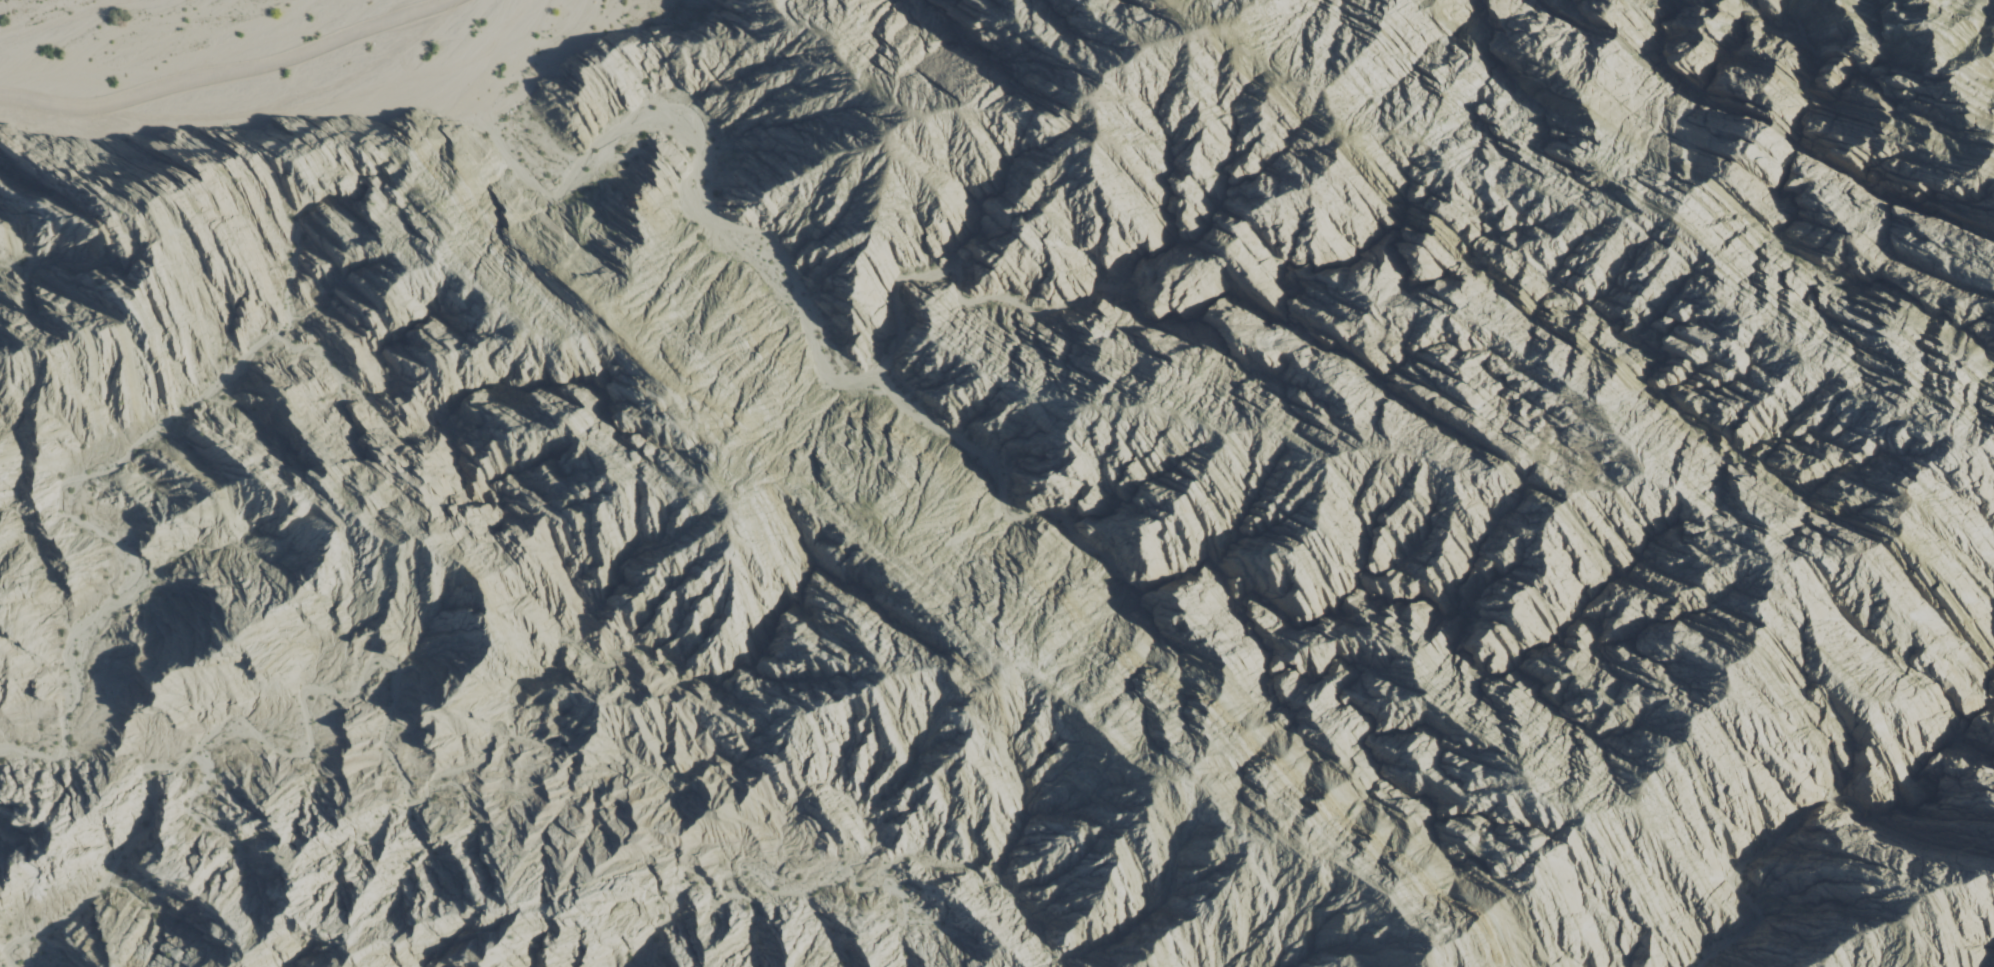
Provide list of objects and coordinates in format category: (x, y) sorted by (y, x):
road: (57, 23)

